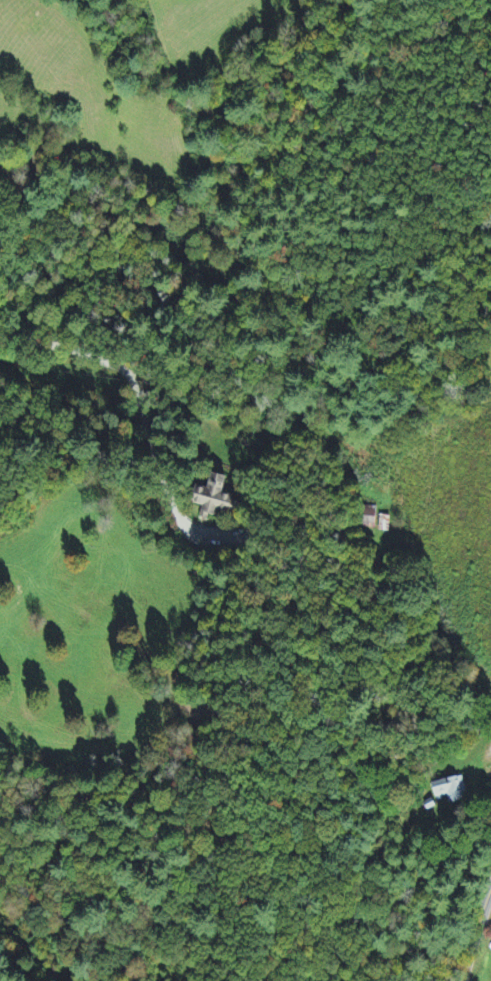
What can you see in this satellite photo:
road: (78, 352)
building: (214, 498)
building: (369, 519)
building: (451, 791)
road: (456, 926)

